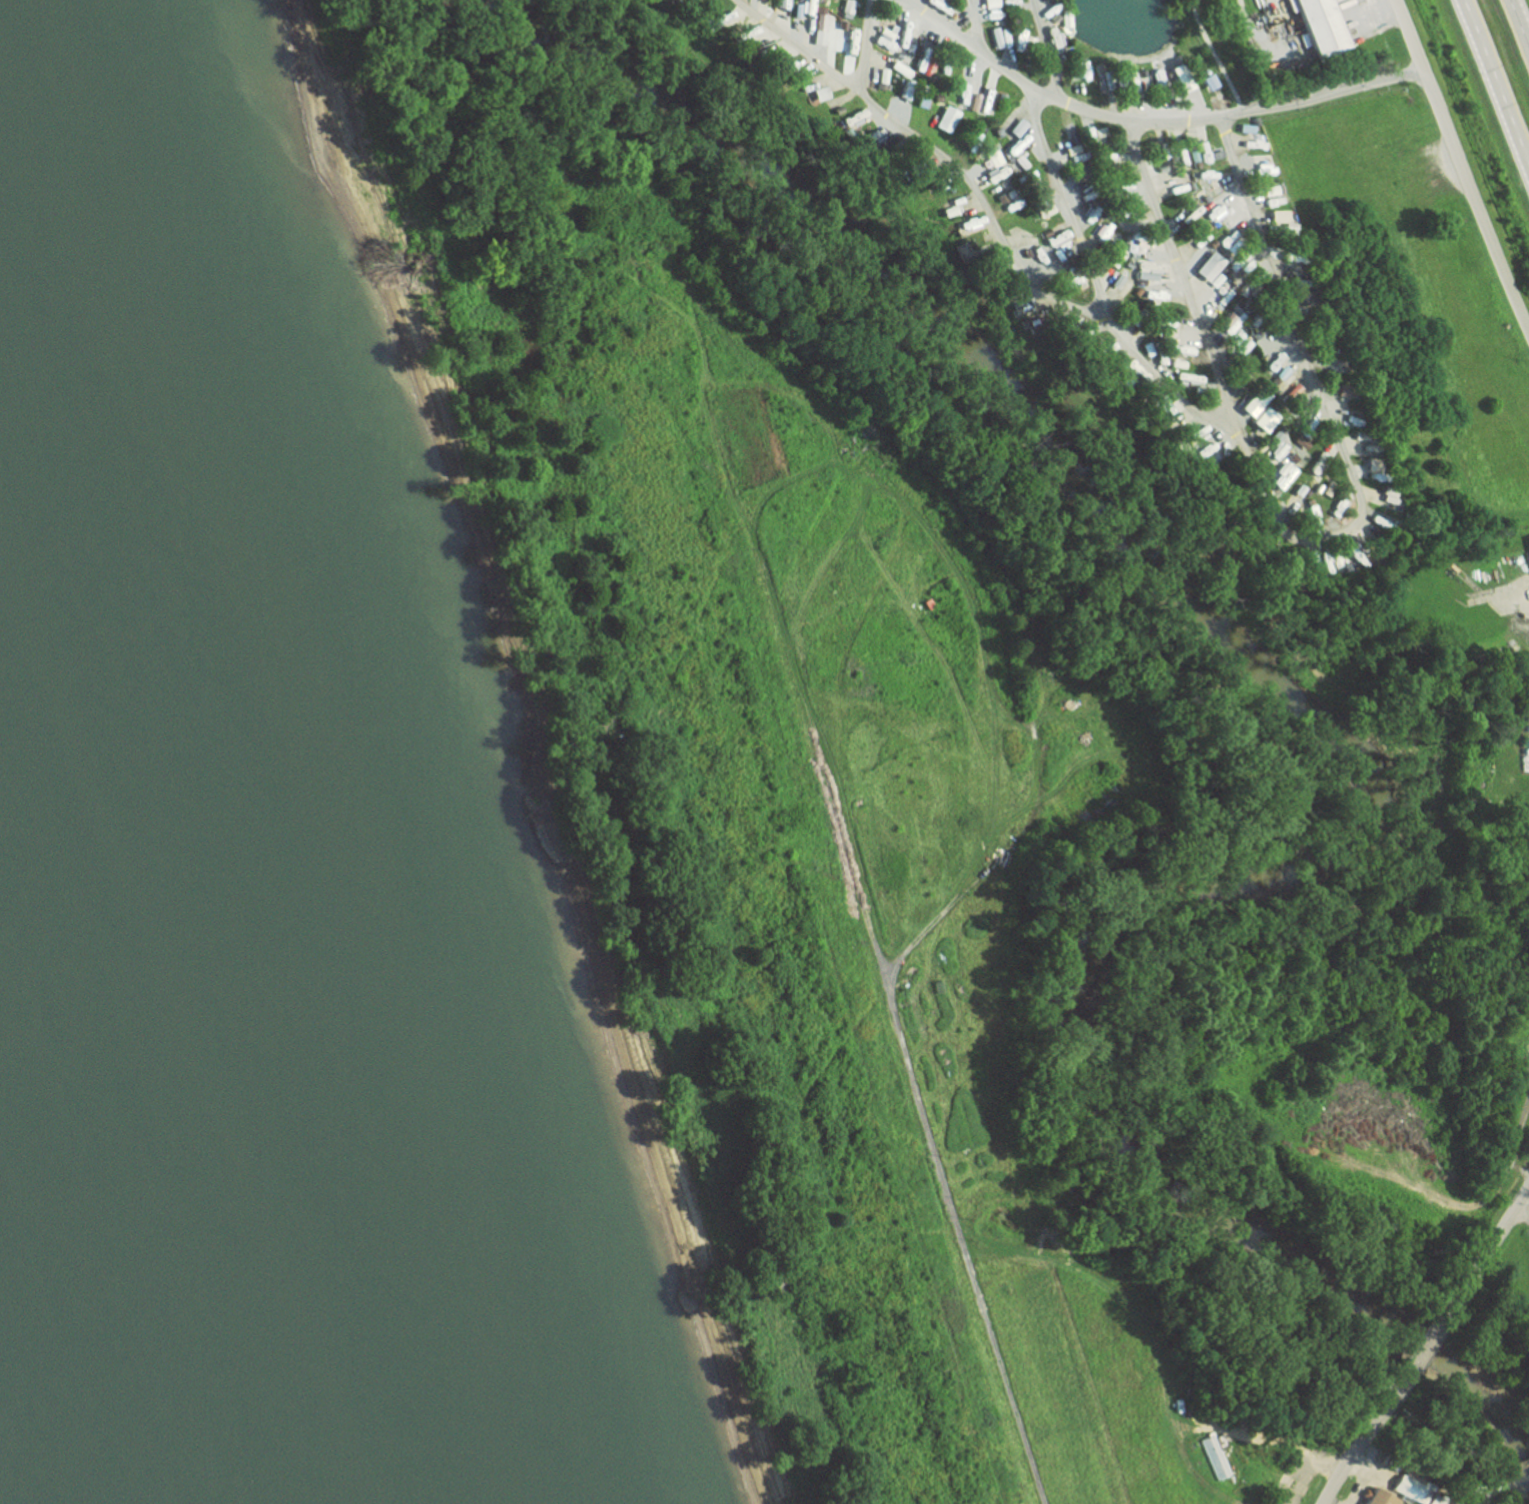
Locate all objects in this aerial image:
building: (989, 5)
building: (846, 7)
building: (817, 23)
road: (975, 23)
road: (1519, 24)
building: (1322, 27)
building: (997, 38)
building: (848, 41)
road: (863, 45)
road: (1044, 48)
road: (1214, 55)
road: (1497, 80)
building: (1206, 83)
building: (971, 103)
building: (944, 120)
road: (1149, 121)
building: (1015, 128)
building: (1254, 143)
building: (1015, 154)
building: (993, 156)
building: (1186, 158)
road: (1459, 167)
road: (1065, 201)
building: (1275, 217)
building: (1202, 262)
road: (1178, 269)
building: (1239, 342)
building: (1270, 348)
building: (1178, 349)
building: (1182, 379)
road: (1221, 415)
building: (1191, 437)
building: (1273, 438)
building: (1299, 442)
building: (1528, 540)
road: (1499, 1233)
river: (97, 1282)
road: (1425, 1344)
road: (1351, 1455)
building: (1403, 1485)
building: (1374, 1498)

